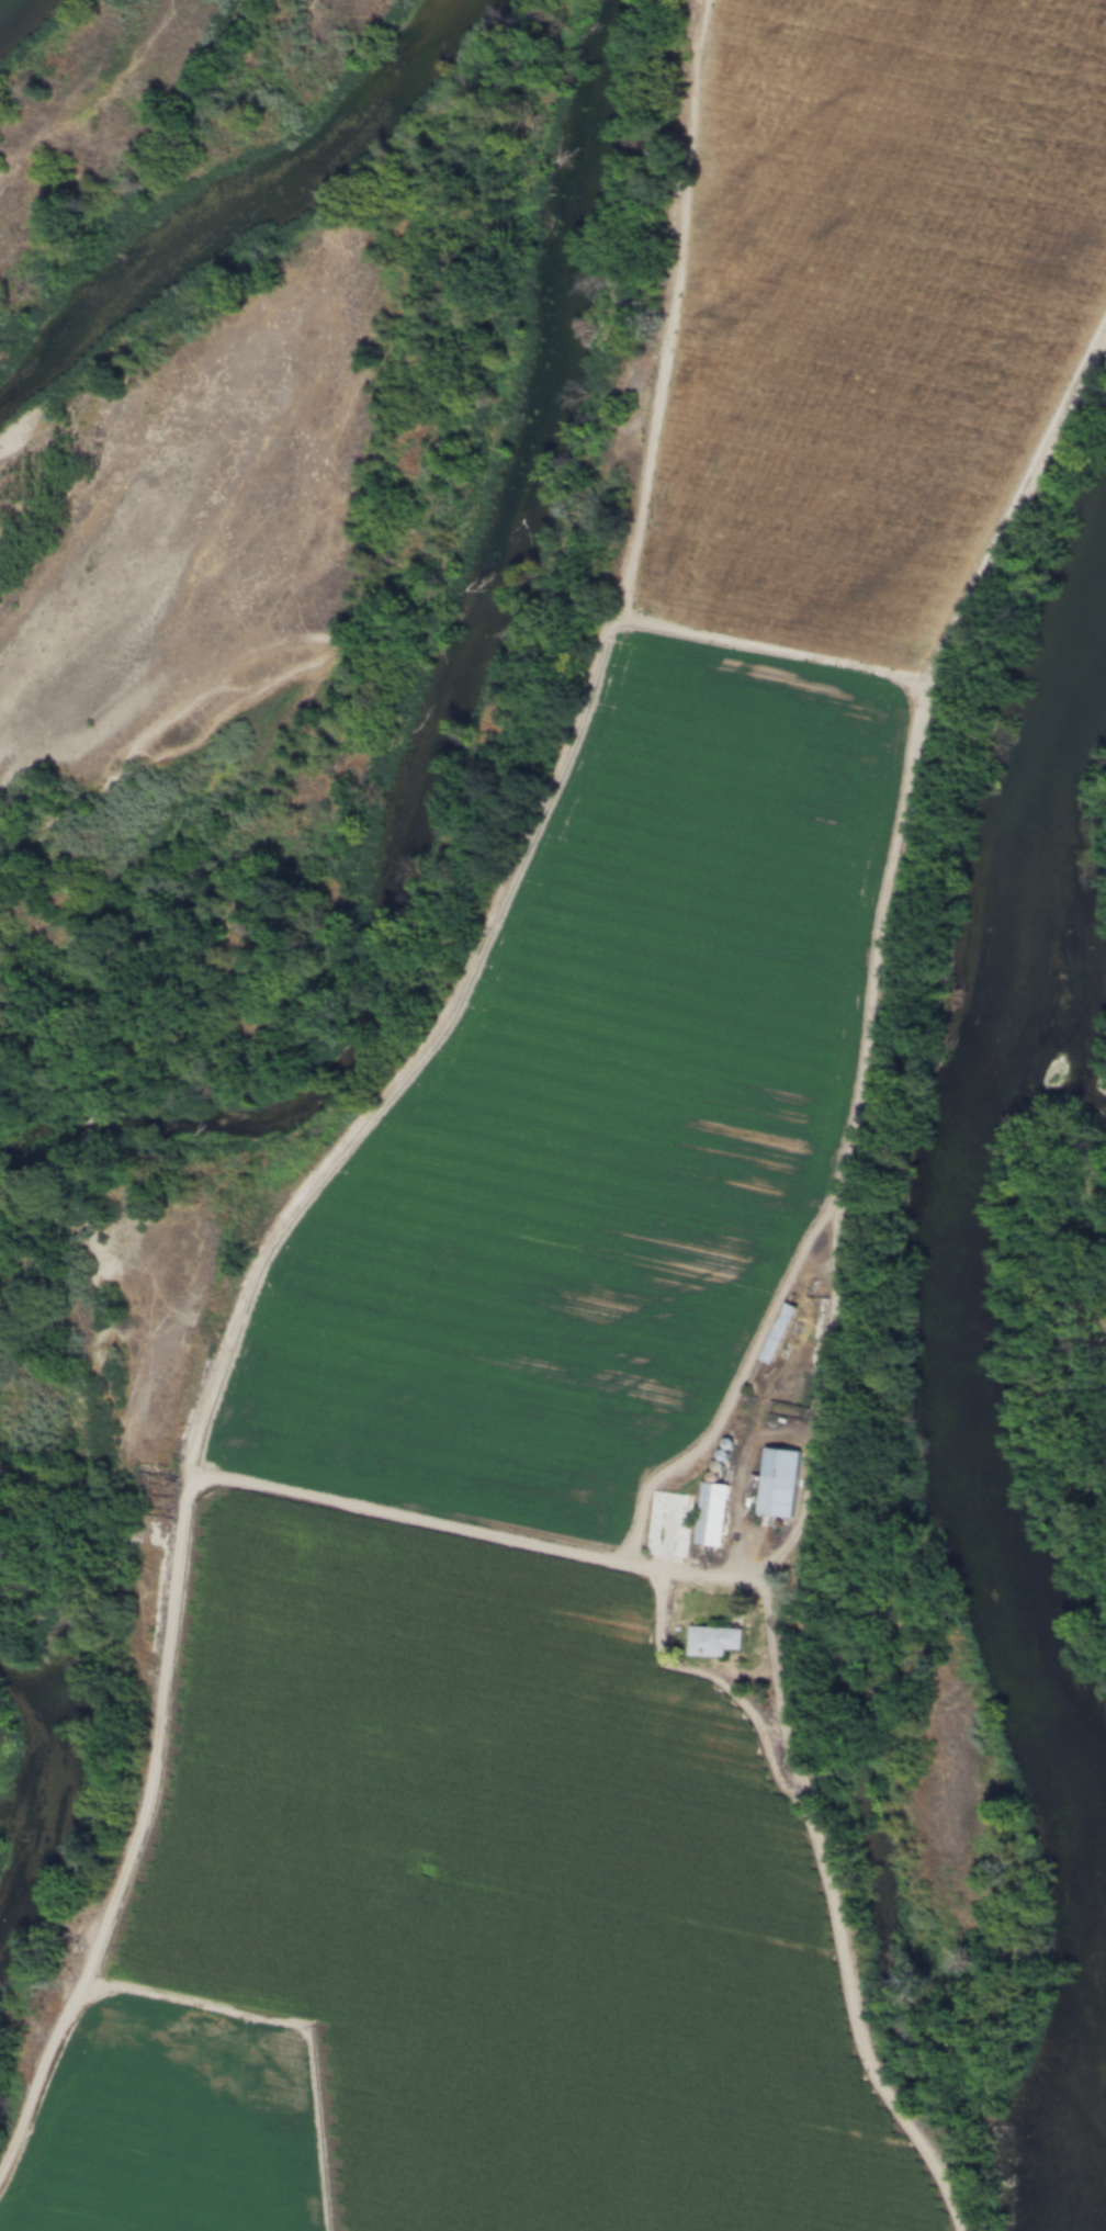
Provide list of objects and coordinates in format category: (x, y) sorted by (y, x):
building: (780, 1333)
building: (777, 1485)
building: (670, 1524)
road: (182, 1544)
road: (804, 1779)

